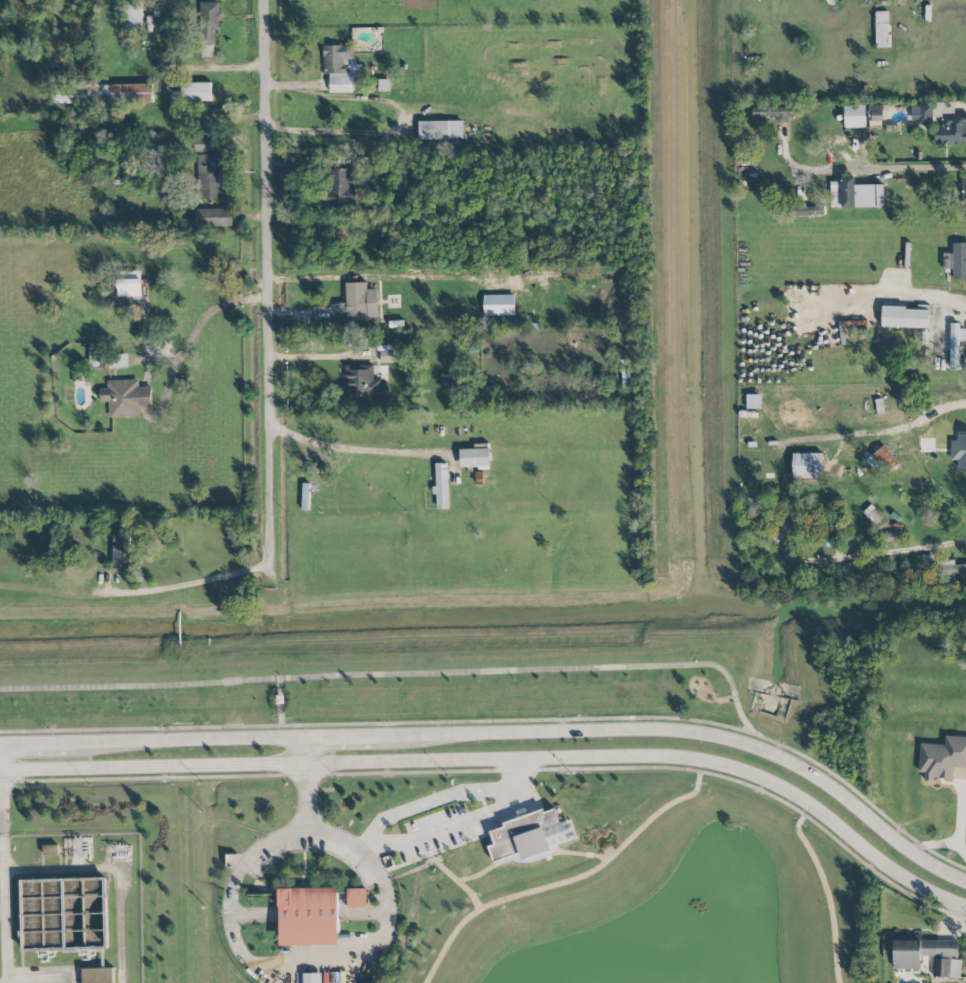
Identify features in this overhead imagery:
building: (132, 15)
building: (208, 27)
building: (882, 29)
road: (211, 65)
building: (340, 67)
building: (196, 92)
building: (124, 93)
building: (72, 94)
building: (876, 112)
building: (773, 113)
building: (921, 115)
building: (855, 116)
building: (441, 130)
building: (951, 130)
road: (334, 131)
building: (203, 145)
road: (908, 168)
building: (209, 176)
building: (341, 186)
building: (855, 194)
building: (964, 196)
building: (805, 209)
building: (213, 217)
building: (956, 261)
road: (319, 277)
road: (266, 282)
building: (129, 284)
road: (926, 298)
building: (357, 305)
building: (499, 305)
building: (905, 317)
road: (197, 328)
building: (956, 344)
road: (319, 360)
building: (117, 361)
building: (363, 382)
building: (126, 398)
road: (916, 420)
road: (351, 448)
building: (959, 451)
building: (474, 457)
building: (882, 462)
building: (807, 465)
building: (441, 485)
building: (872, 515)
building: (890, 537)
building: (120, 550)
road: (872, 553)
building: (926, 564)
building: (952, 569)
road: (191, 582)
road: (392, 660)
road: (364, 724)
road: (693, 735)
road: (342, 739)
road: (191, 742)
road: (39, 745)
road: (305, 752)
building: (942, 758)
road: (499, 763)
road: (379, 774)
road: (852, 787)
road: (429, 801)
road: (458, 820)
road: (956, 829)
building: (530, 837)
road: (933, 846)
road: (858, 859)
parking lot: (258, 862)
road: (1, 864)
road: (54, 869)
road: (4, 875)
building: (357, 898)
road: (2, 909)
building: (65, 914)
road: (309, 914)
building: (308, 916)
road: (121, 919)
building: (921, 952)
road: (276, 964)
building: (946, 968)
building: (97, 975)
building: (312, 978)

